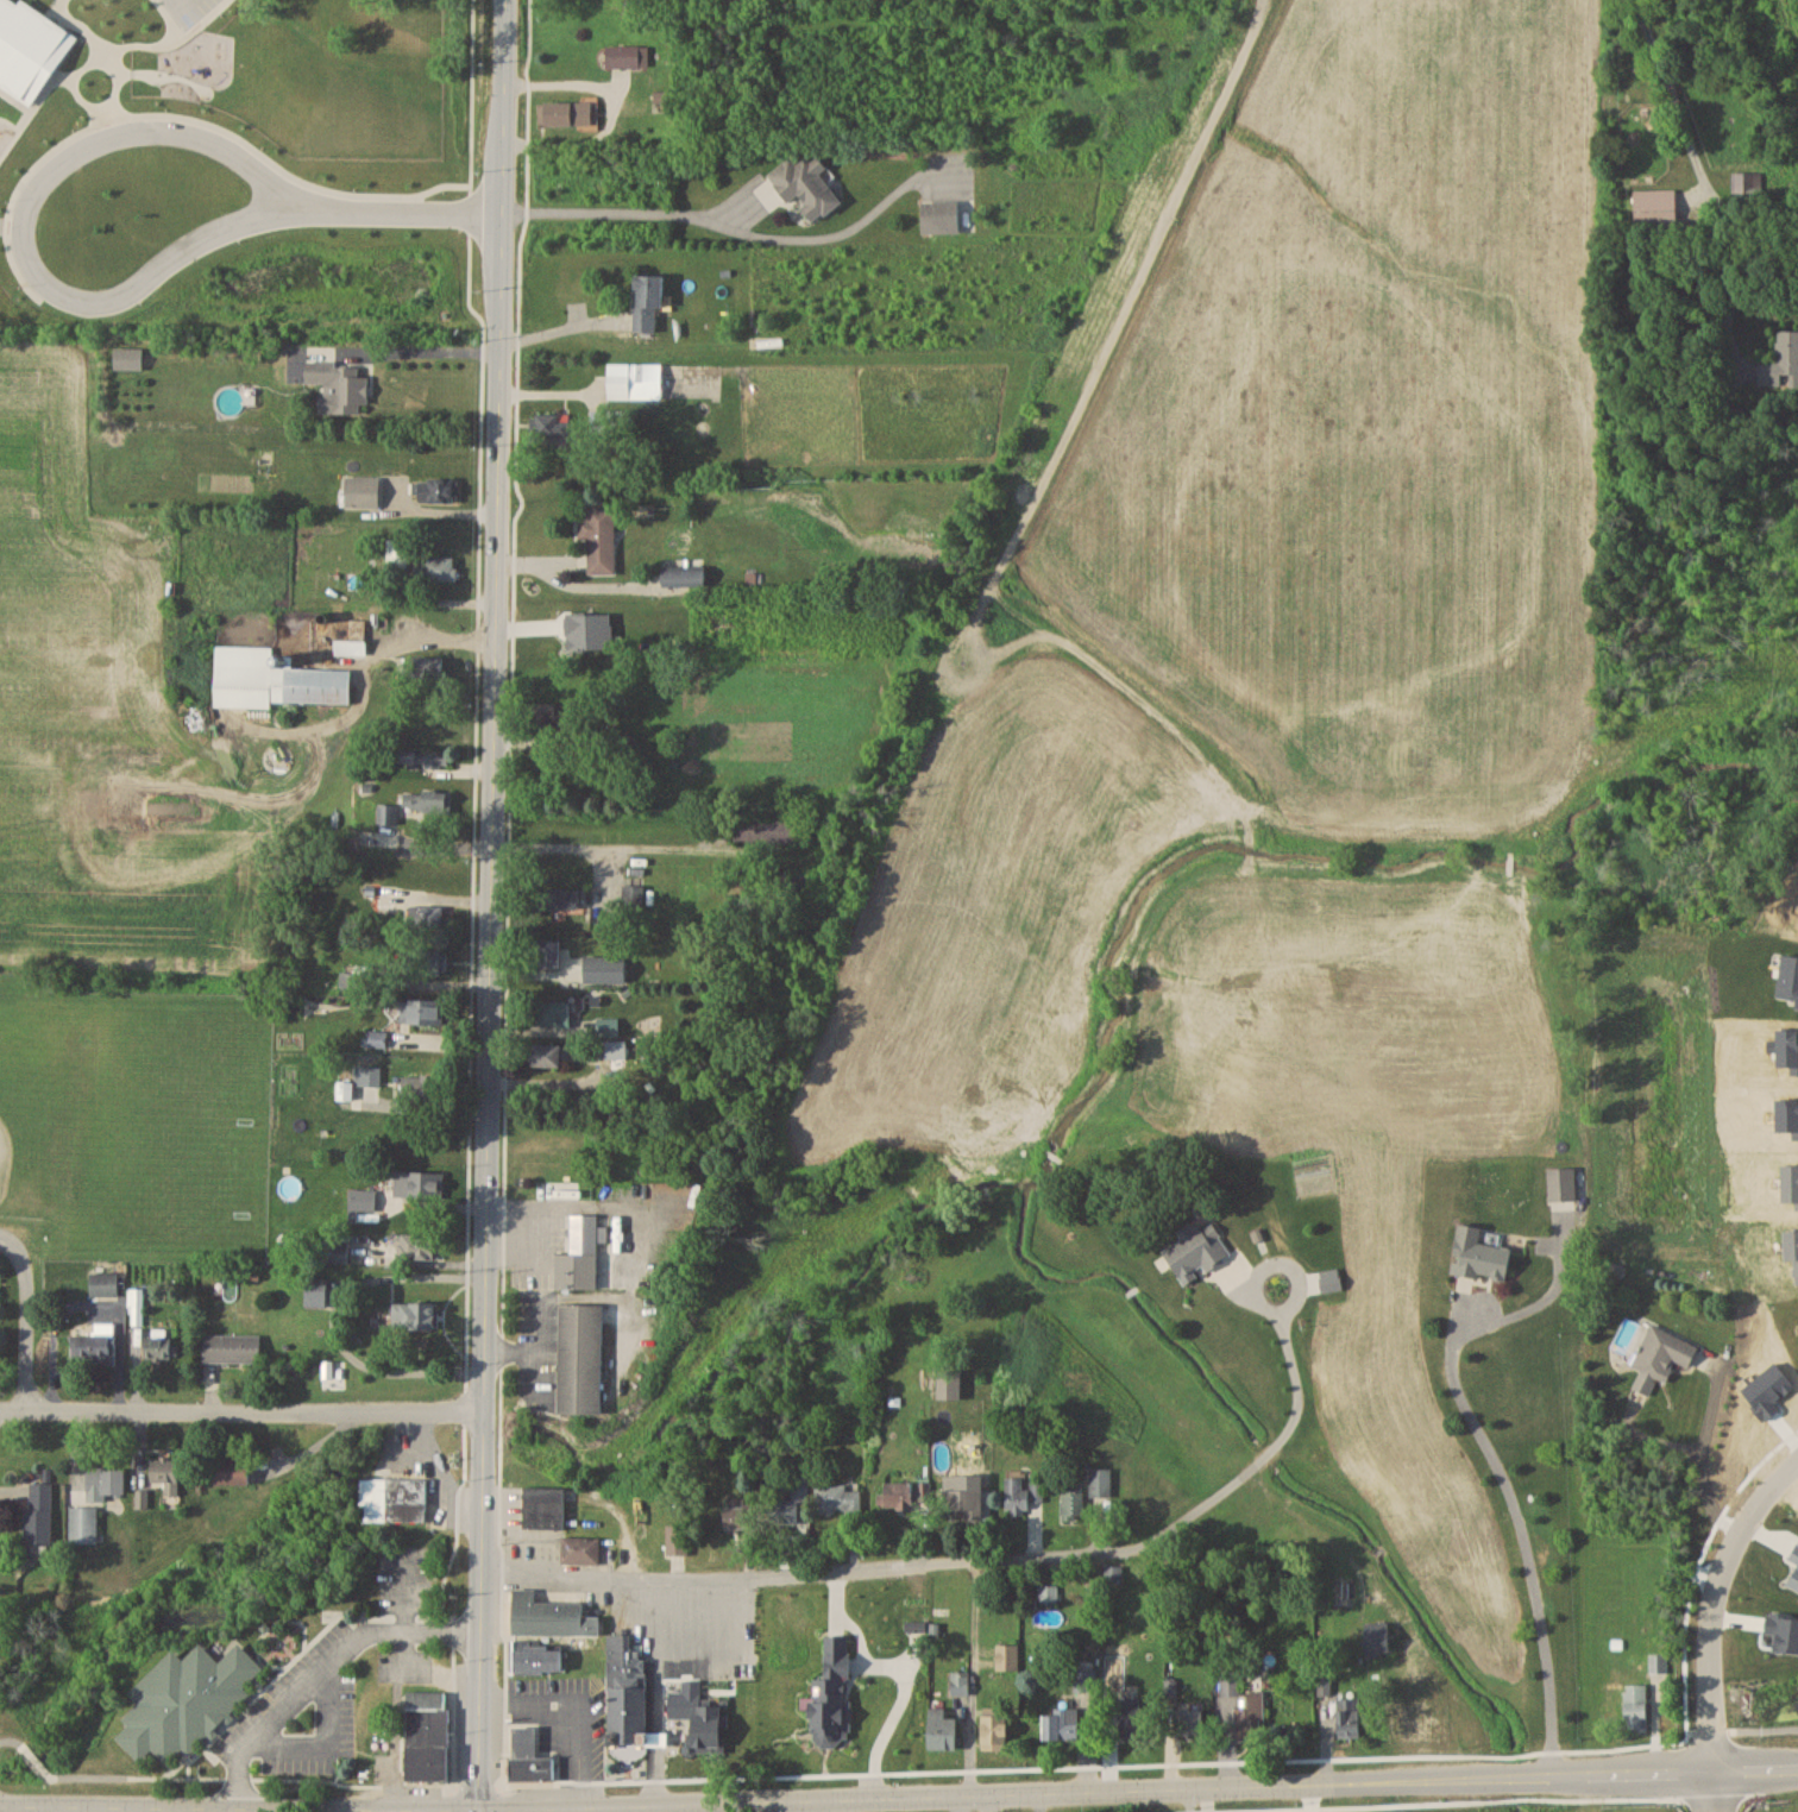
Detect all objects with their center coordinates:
road: (183, 4)
road: (168, 5)
building: (622, 57)
road: (615, 111)
building: (567, 114)
building: (1748, 182)
road: (1708, 184)
building: (806, 187)
building: (1655, 201)
road: (410, 209)
road: (633, 212)
building: (942, 218)
road: (10, 231)
building: (648, 301)
road: (560, 329)
road: (432, 350)
building: (128, 358)
building: (1781, 361)
building: (635, 380)
building: (339, 385)
building: (610, 421)
building: (553, 426)
building: (435, 490)
building: (362, 492)
building: (599, 539)
building: (396, 553)
building: (439, 568)
building: (684, 577)
building: (351, 635)
building: (428, 669)
building: (272, 679)
building: (548, 716)
building: (422, 757)
building: (426, 800)
building: (386, 813)
building: (766, 830)
road: (610, 843)
road: (473, 891)
building: (633, 895)
building: (557, 898)
road: (490, 906)
building: (427, 917)
building: (547, 954)
building: (427, 961)
building: (604, 969)
building: (358, 977)
building: (422, 1011)
building: (552, 1013)
building: (608, 1027)
building: (378, 1038)
building: (610, 1051)
building: (549, 1055)
building: (369, 1075)
building: (345, 1090)
building: (419, 1184)
building: (1561, 1184)
building: (363, 1198)
building: (420, 1246)
road: (624, 1247)
building: (1197, 1250)
building: (1479, 1254)
building: (580, 1256)
building: (105, 1284)
building: (315, 1297)
building: (136, 1307)
building: (415, 1315)
road: (26, 1316)
road: (332, 1319)
building: (99, 1345)
building: (161, 1345)
building: (232, 1347)
road: (535, 1349)
building: (1664, 1352)
building: (581, 1358)
road: (240, 1408)
road: (1290, 1417)
road: (1703, 1459)
building: (231, 1470)
building: (166, 1472)
building: (105, 1480)
building: (1101, 1481)
building: (1021, 1493)
building: (905, 1495)
building: (392, 1498)
building: (838, 1498)
building: (961, 1498)
building: (1073, 1502)
building: (790, 1505)
building: (542, 1506)
building: (39, 1511)
building: (738, 1516)
building: (83, 1524)
building: (677, 1539)
road: (1522, 1542)
building: (580, 1548)
road: (782, 1572)
building: (1114, 1573)
building: (1048, 1593)
building: (551, 1616)
road: (1722, 1617)
building: (1378, 1637)
building: (1007, 1656)
building: (539, 1657)
building: (1658, 1662)
road: (323, 1672)
building: (961, 1684)
building: (183, 1692)
building: (628, 1693)
building: (1240, 1705)
building: (1636, 1706)
parking lot: (306, 1707)
road: (566, 1715)
building: (1348, 1716)
building: (1133, 1718)
building: (1190, 1722)
building: (1061, 1723)
building: (702, 1724)
building: (943, 1729)
building: (995, 1729)
building: (427, 1735)
road: (11, 1742)
building: (529, 1757)
road: (37, 1758)
road: (470, 1781)
road: (503, 1794)
road: (899, 1795)
road: (1715, 1797)
road: (1036, 1801)
road: (986, 1802)
road: (773, 1805)
road: (700, 1806)
road: (7, 1807)
road: (155, 1808)
road: (209, 1808)
road: (561, 1808)

